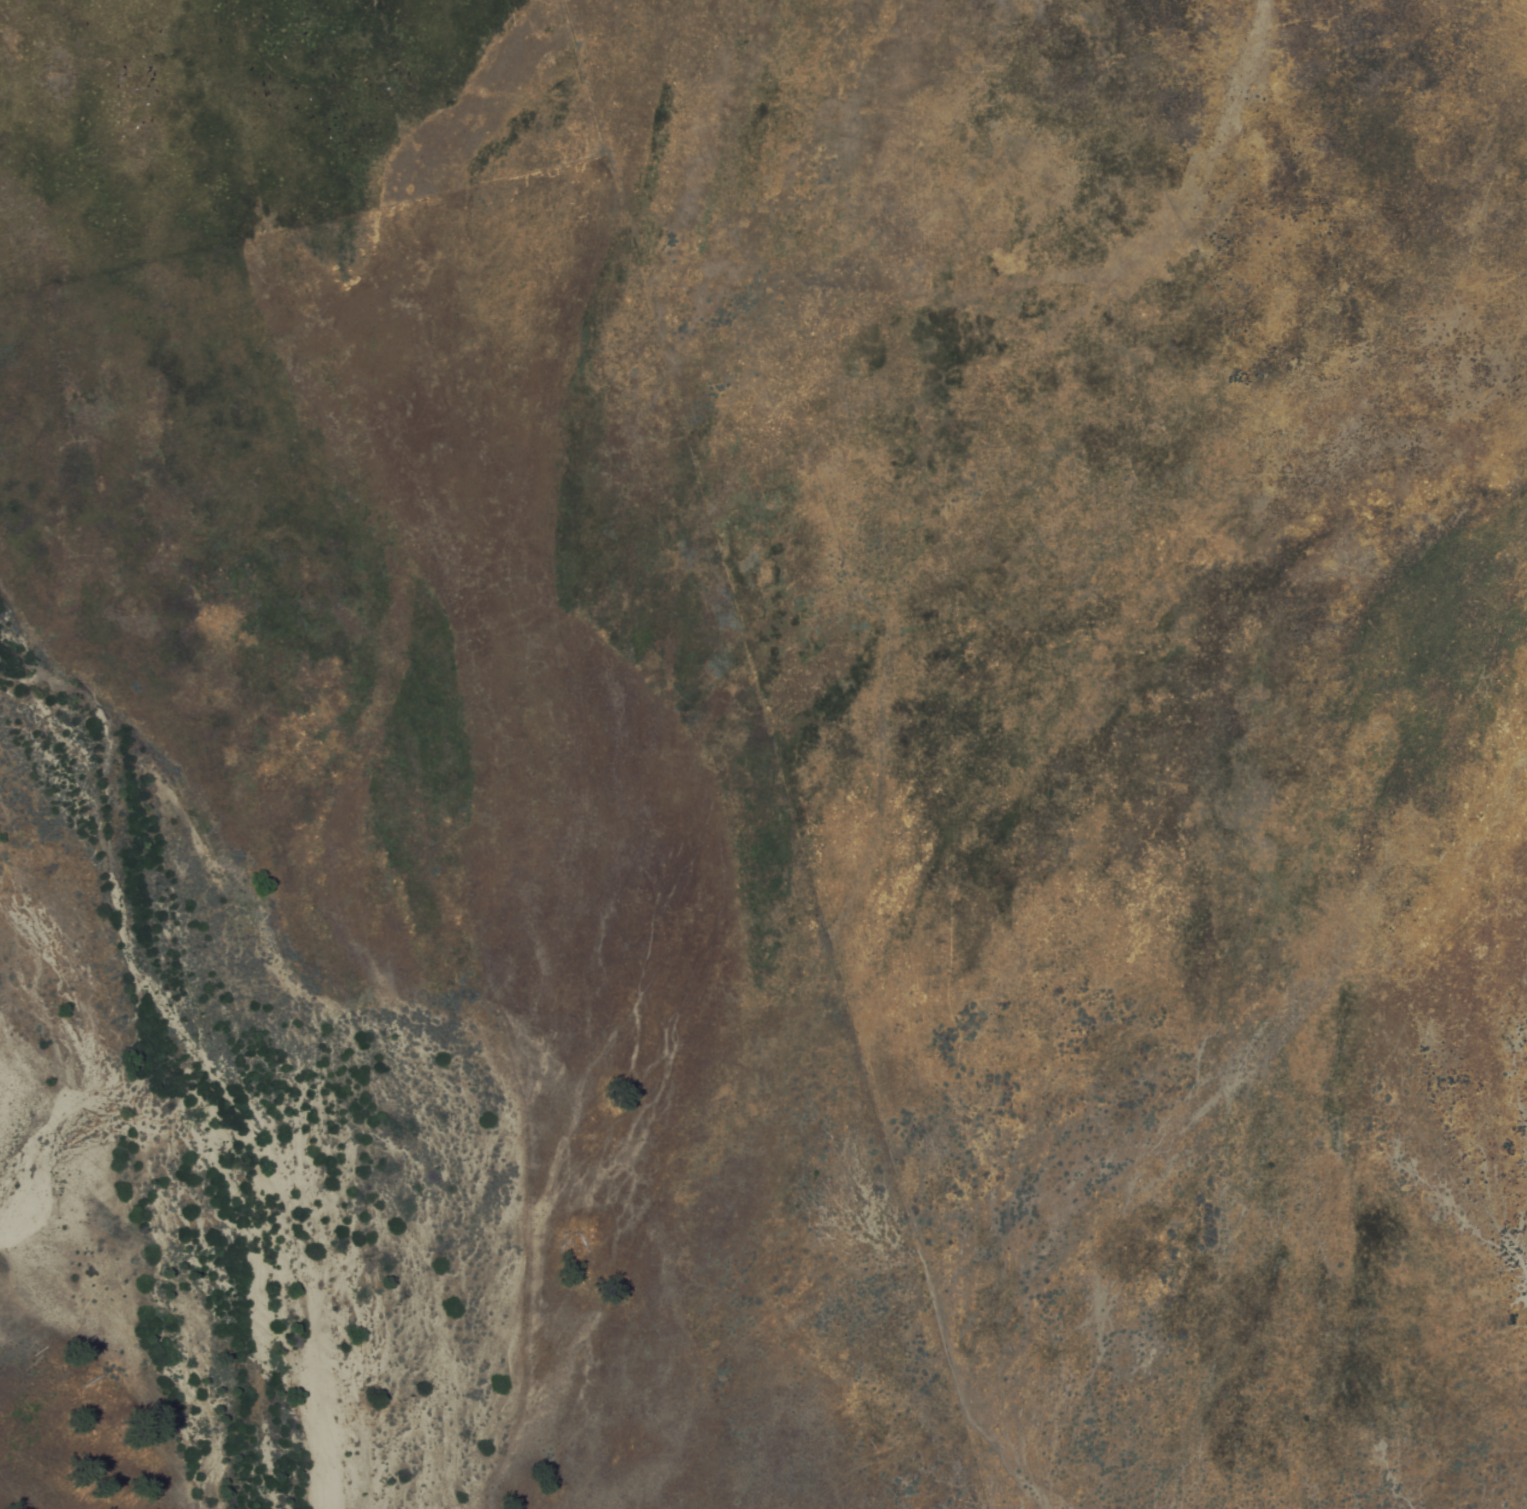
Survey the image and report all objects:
river: (182, 1060)

